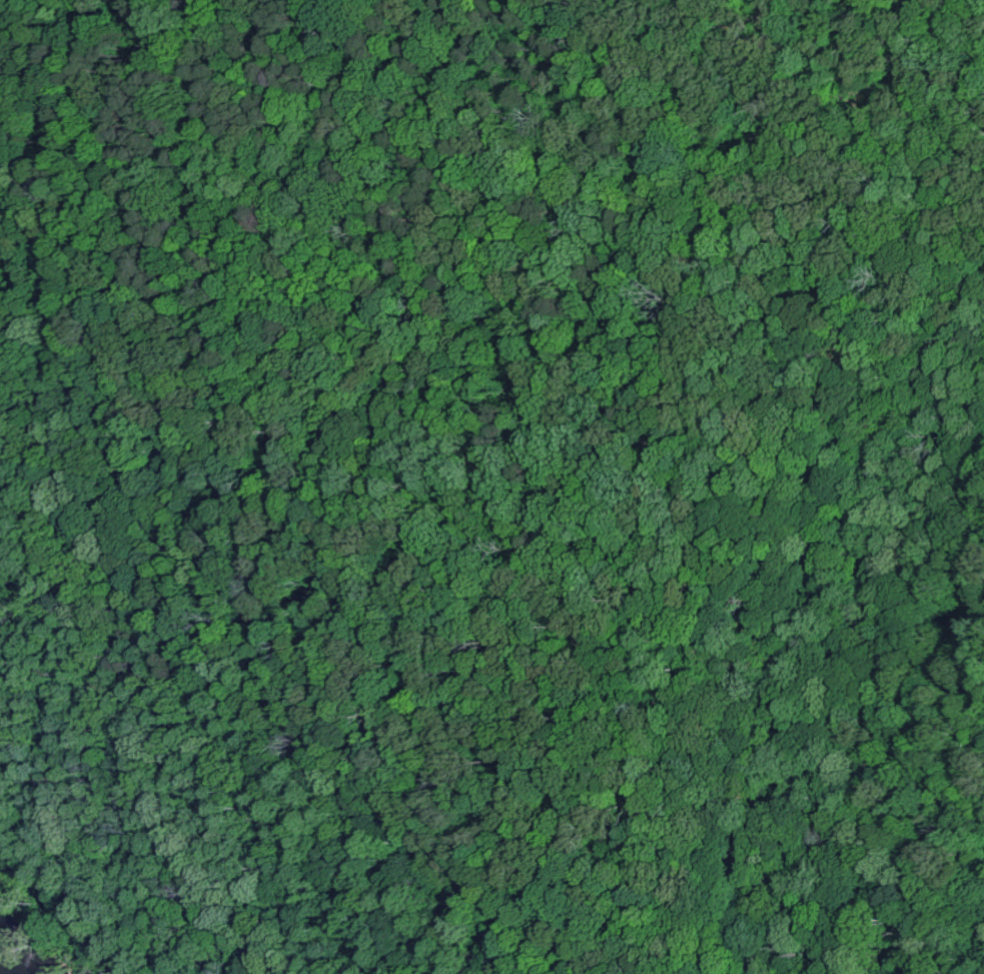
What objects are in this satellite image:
river: (1, 972)

